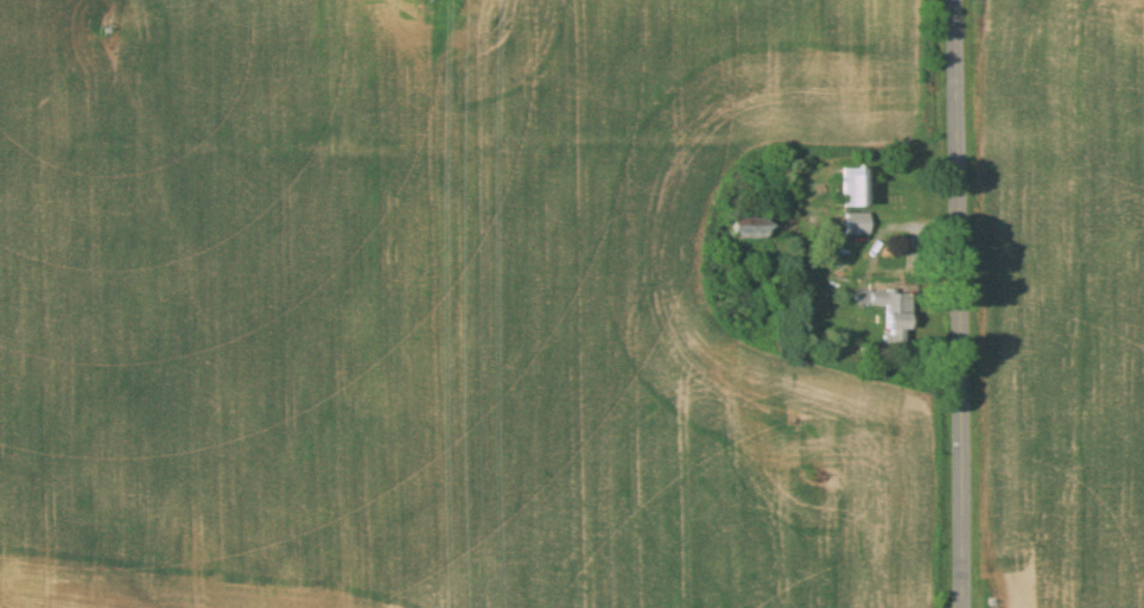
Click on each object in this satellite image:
building: (852, 184)
building: (854, 221)
building: (743, 223)
road: (959, 304)
building: (888, 311)

